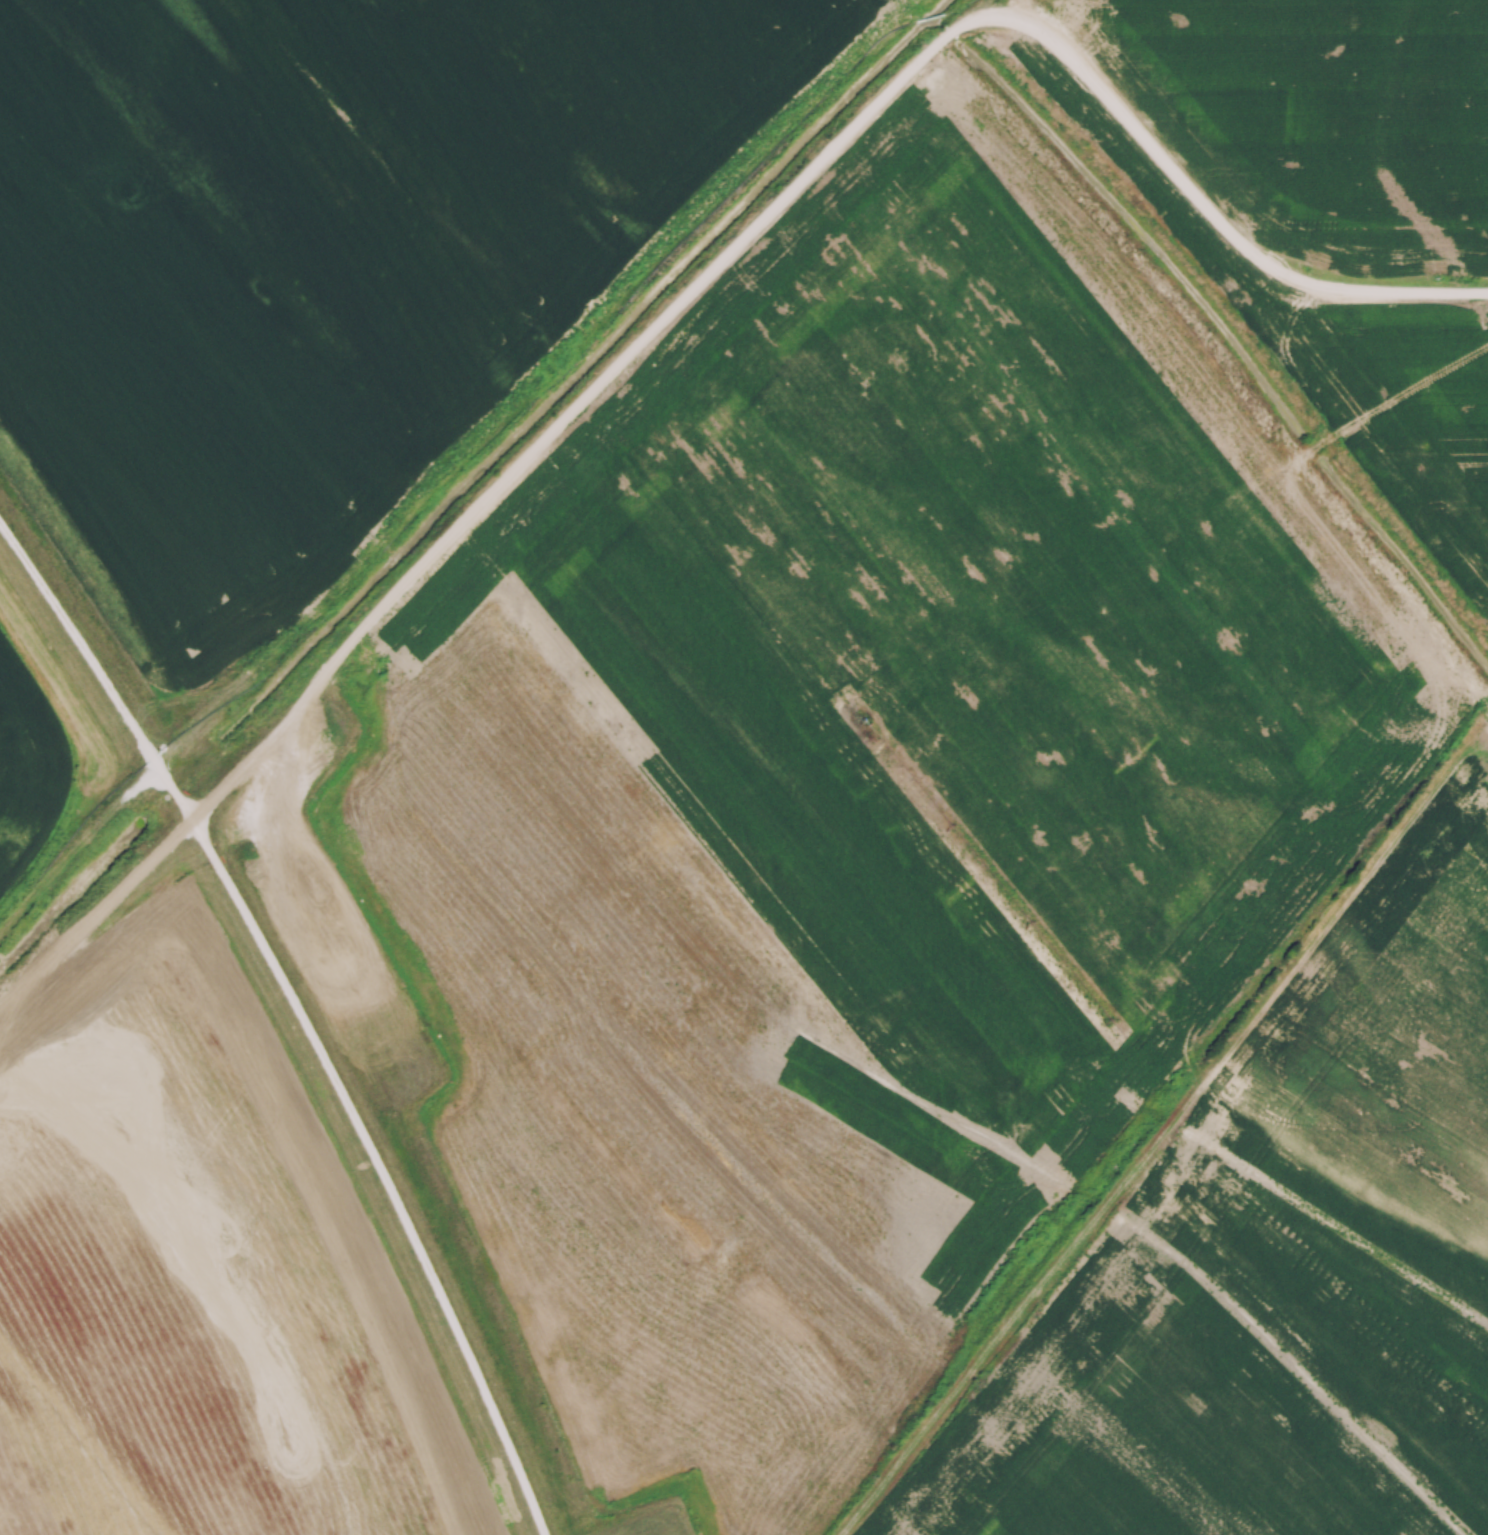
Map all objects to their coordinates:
road: (701, 278)
crop: (27, 757)
road: (304, 1009)

